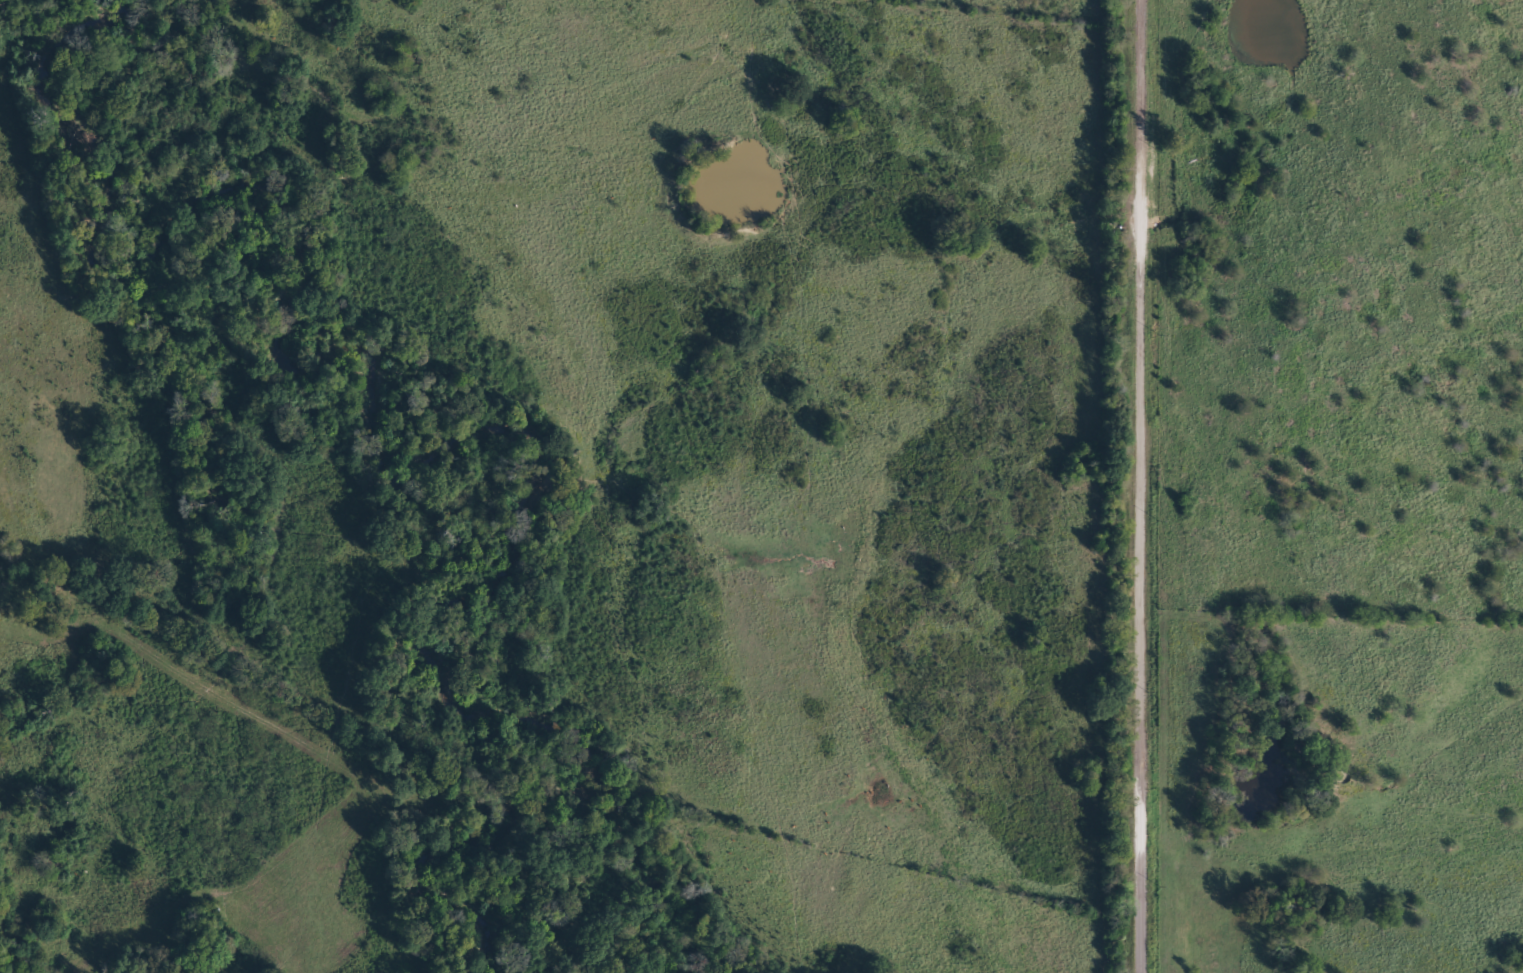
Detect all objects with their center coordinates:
road: (1158, 486)

